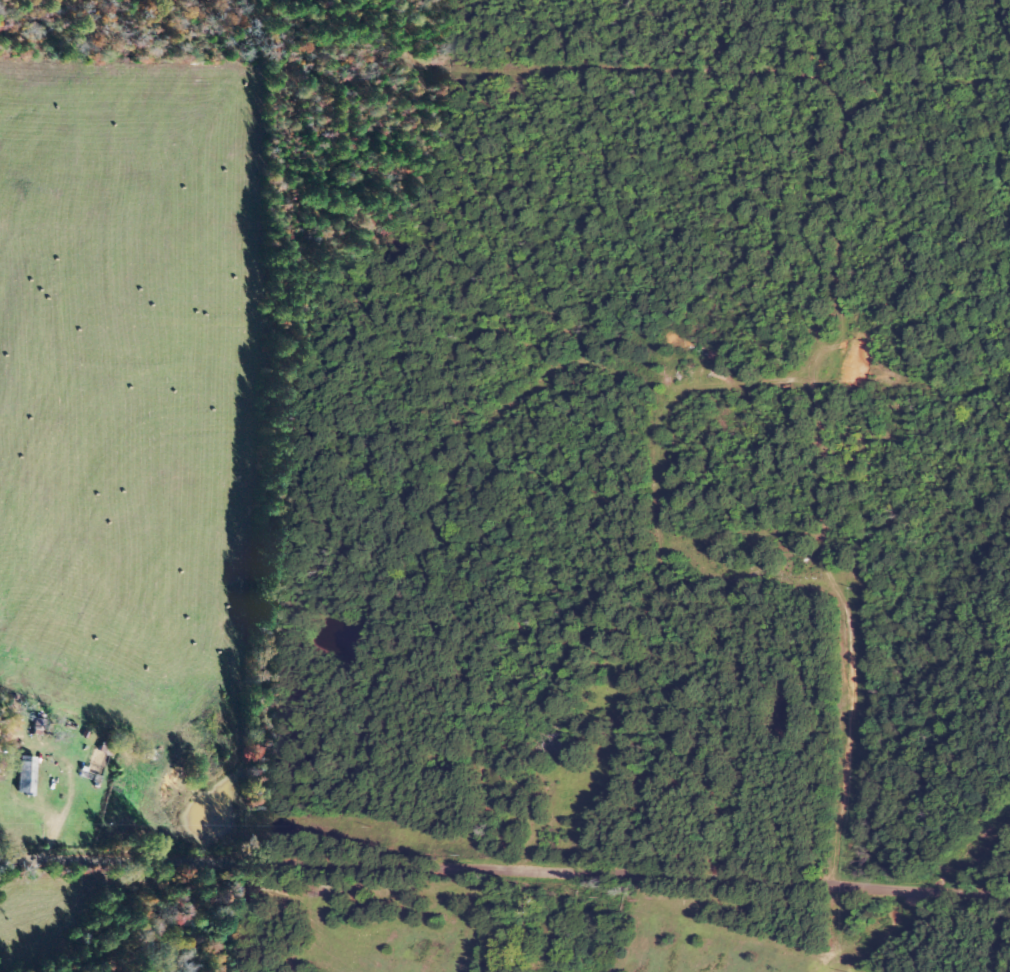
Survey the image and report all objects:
road: (505, 864)

